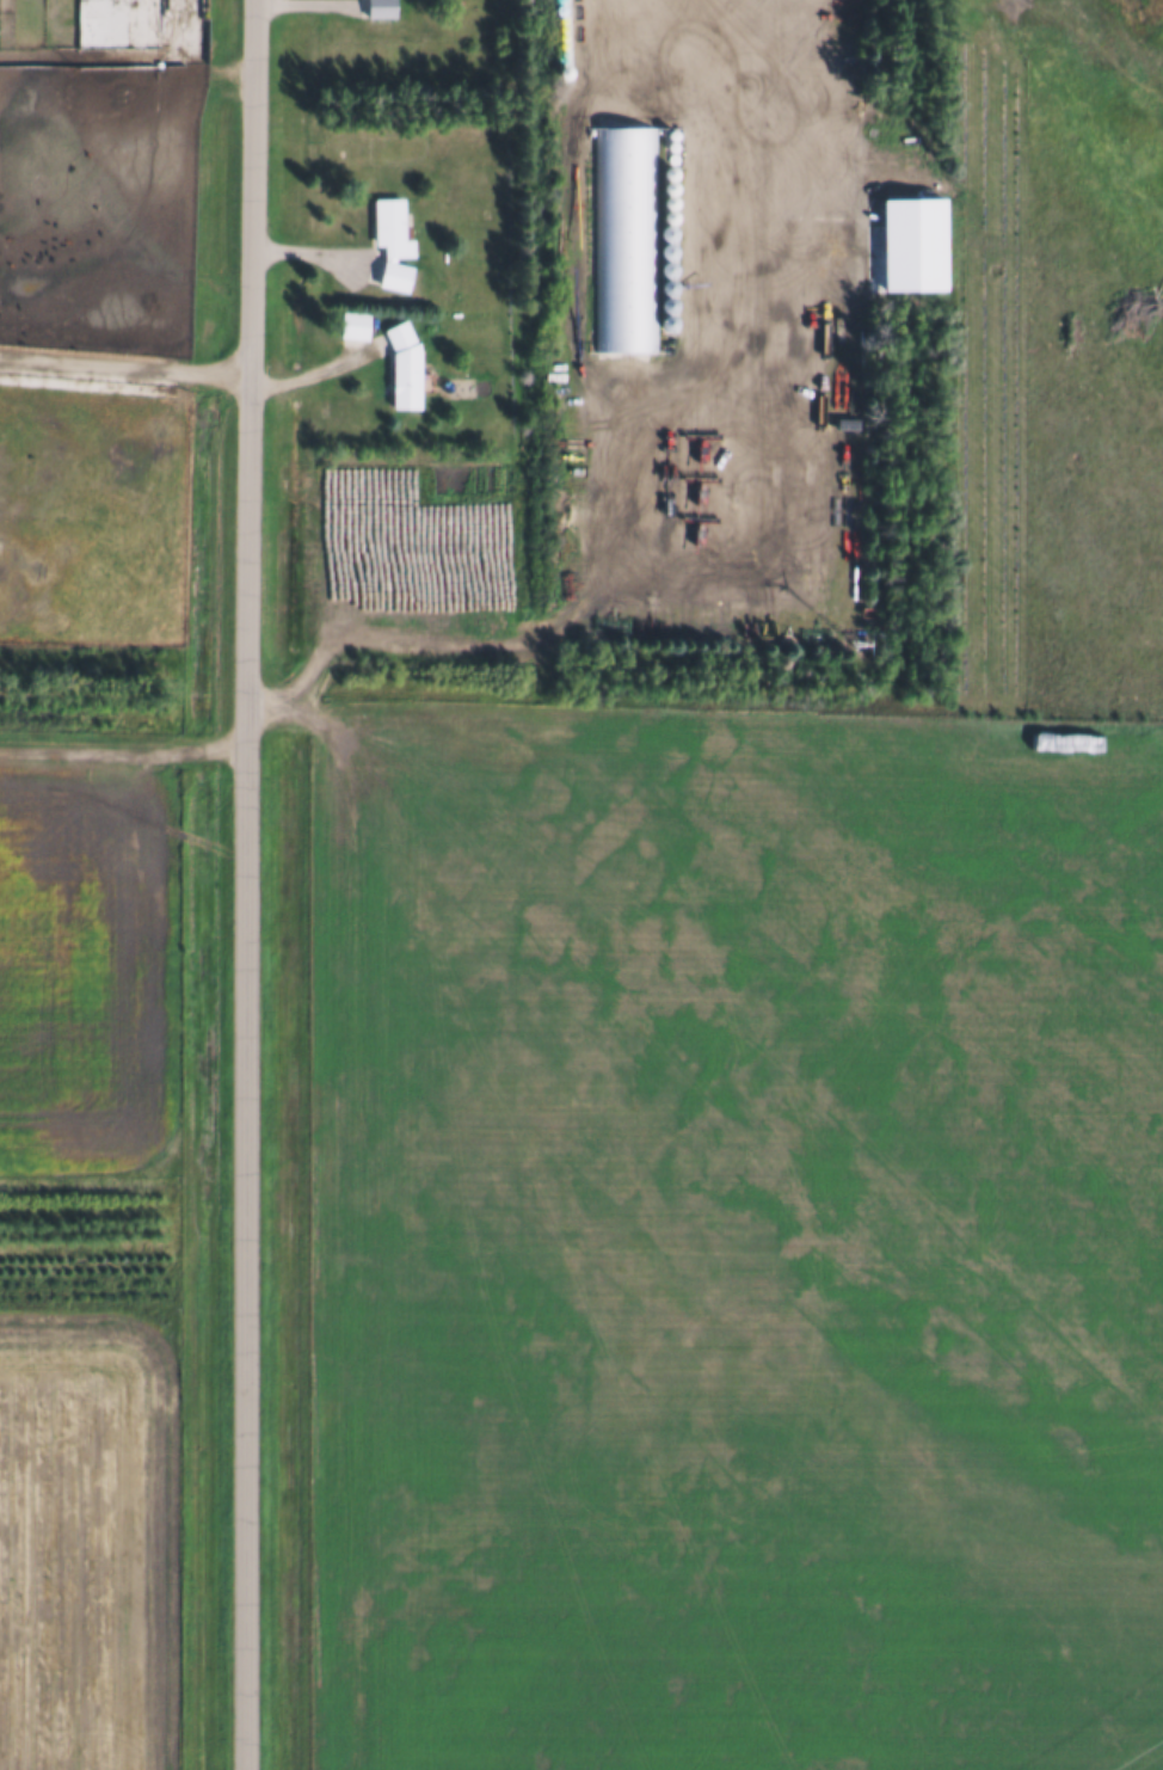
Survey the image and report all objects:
building: (381, 8)
building: (186, 10)
road: (626, 51)
building: (393, 228)
building: (620, 234)
building: (405, 367)
building: (24, 380)
road: (242, 884)

